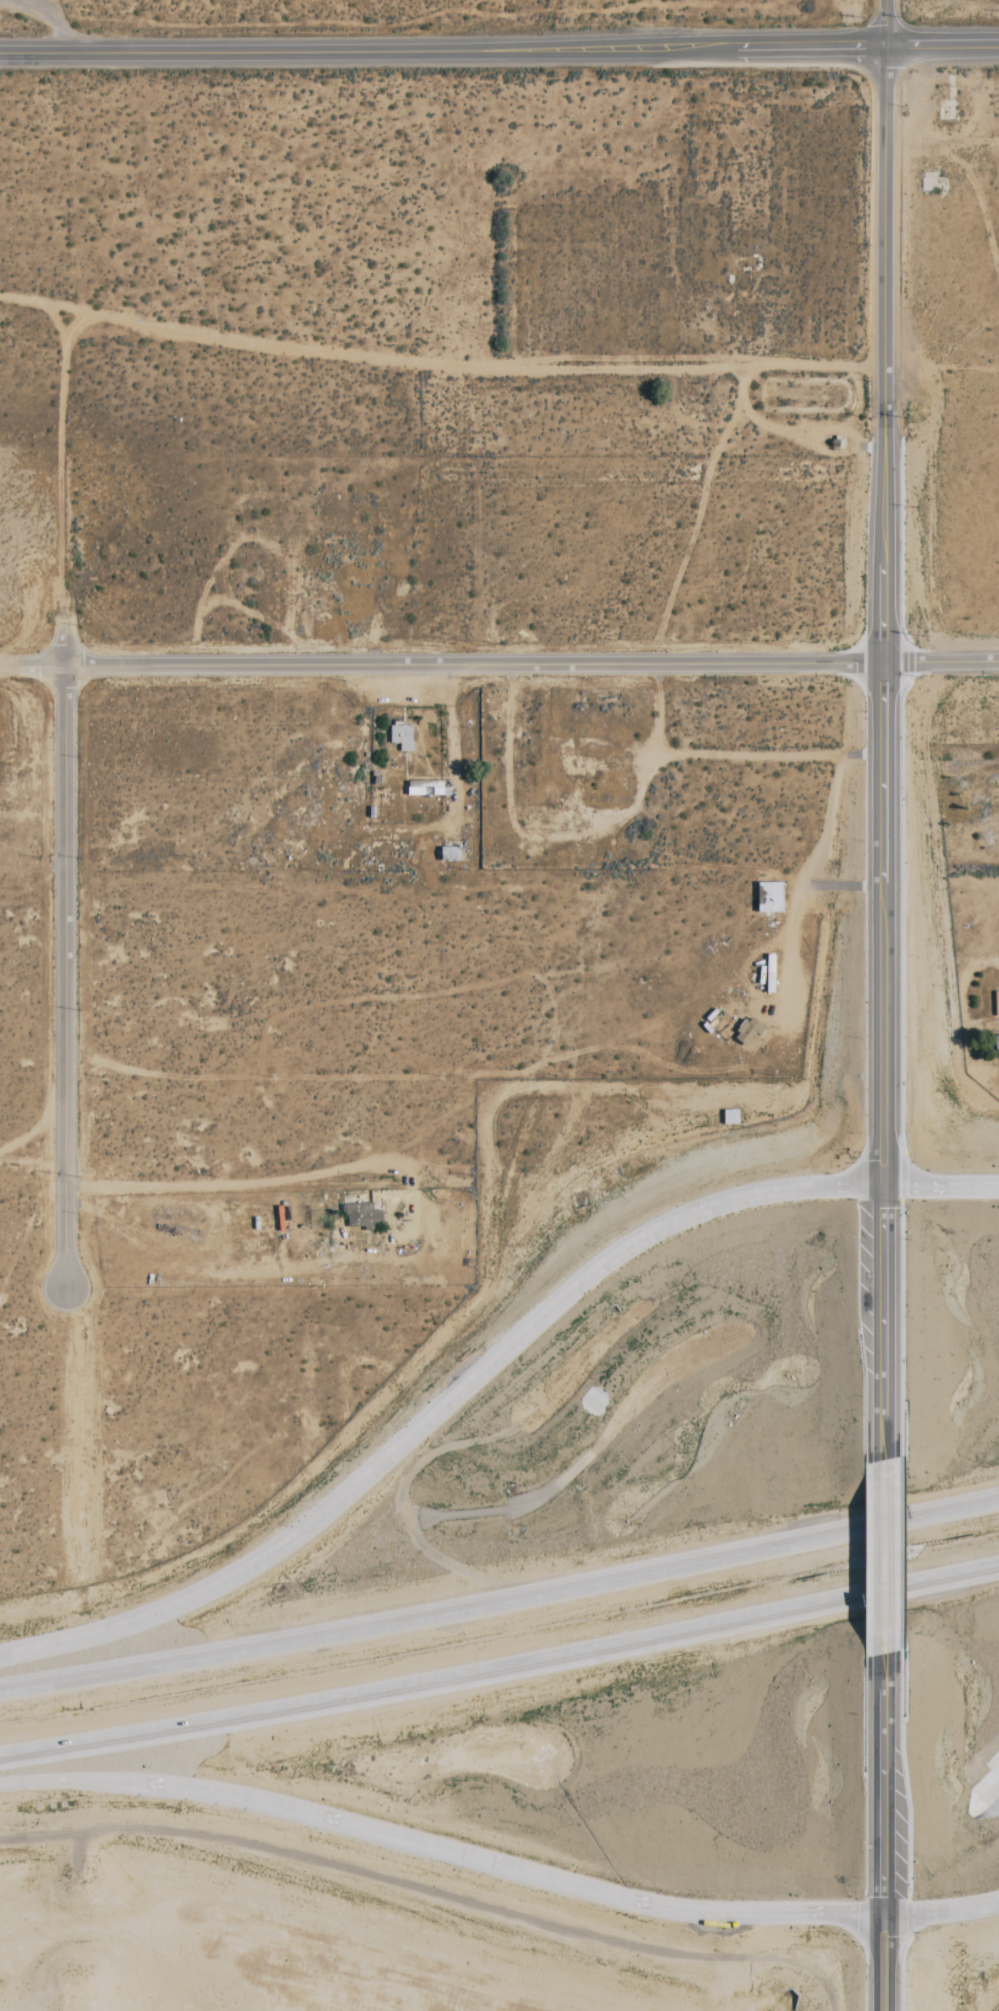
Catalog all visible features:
road: (886, 22)
road: (70, 25)
road: (942, 44)
road: (443, 48)
road: (24, 299)
road: (488, 366)
road: (62, 418)
road: (507, 662)
road: (8, 668)
building: (400, 738)
road: (885, 761)
road: (805, 867)
road: (842, 883)
road: (64, 951)
building: (744, 1033)
building: (995, 1043)
road: (239, 1184)
road: (941, 1186)
building: (359, 1215)
road: (440, 1409)
road: (996, 1499)
road: (883, 1560)
road: (498, 1602)
road: (500, 1666)
road: (883, 1777)
road: (441, 1849)
road: (941, 1910)
road: (884, 1962)

